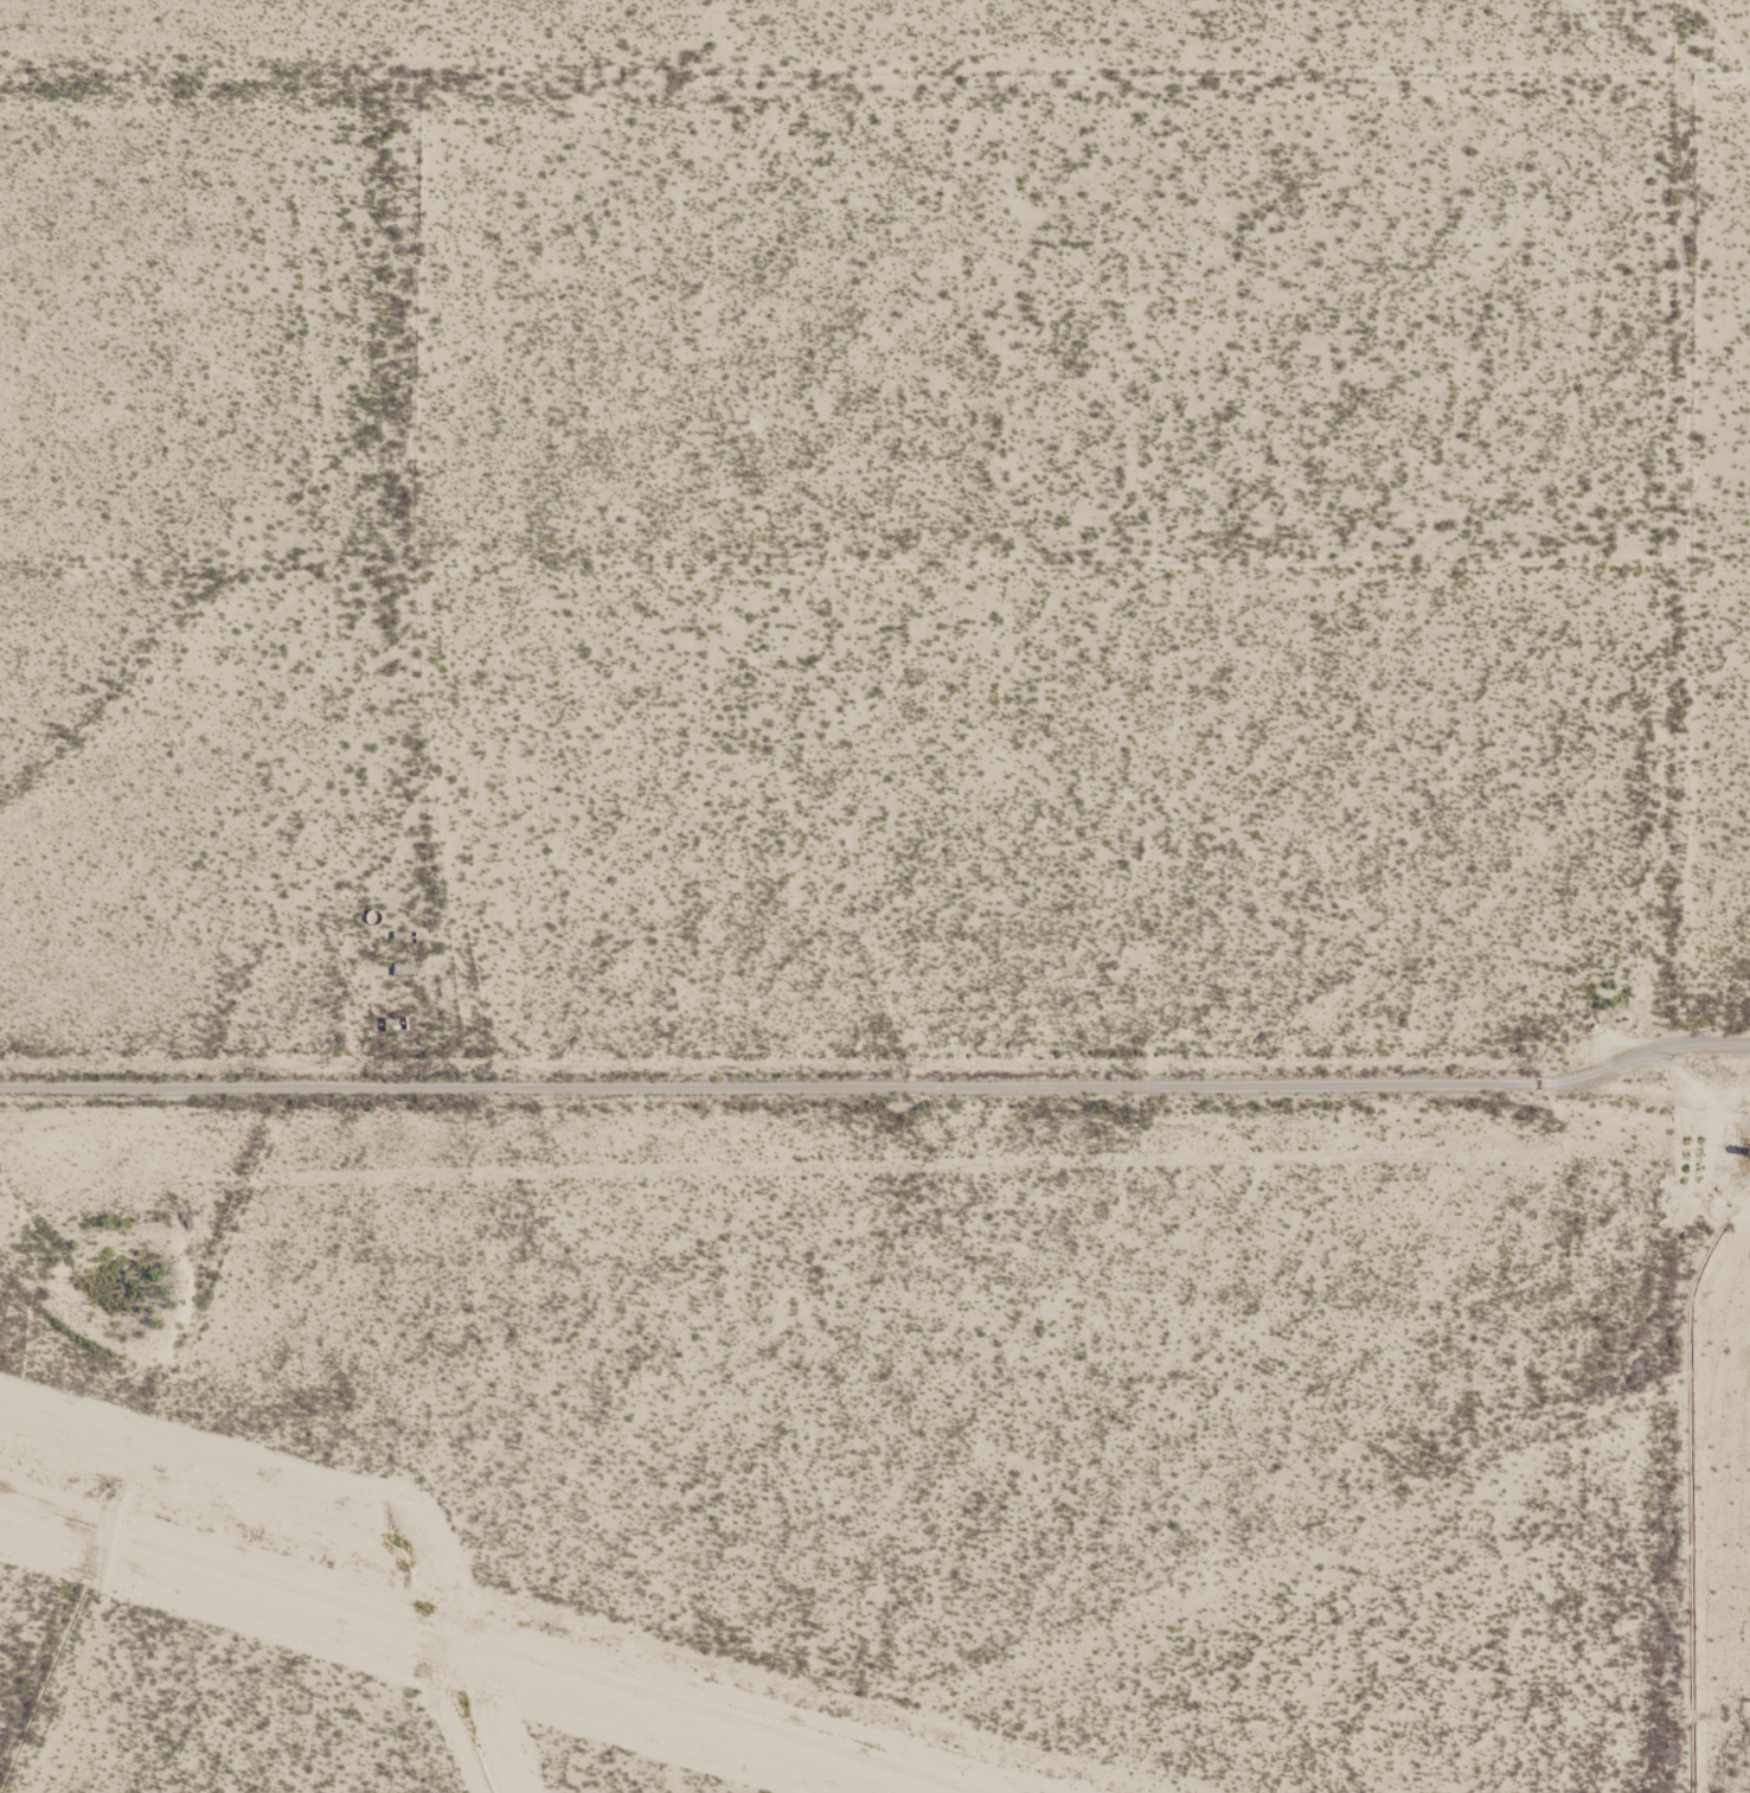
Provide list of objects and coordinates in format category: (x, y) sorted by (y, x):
road: (879, 1139)
road: (1632, 1460)

